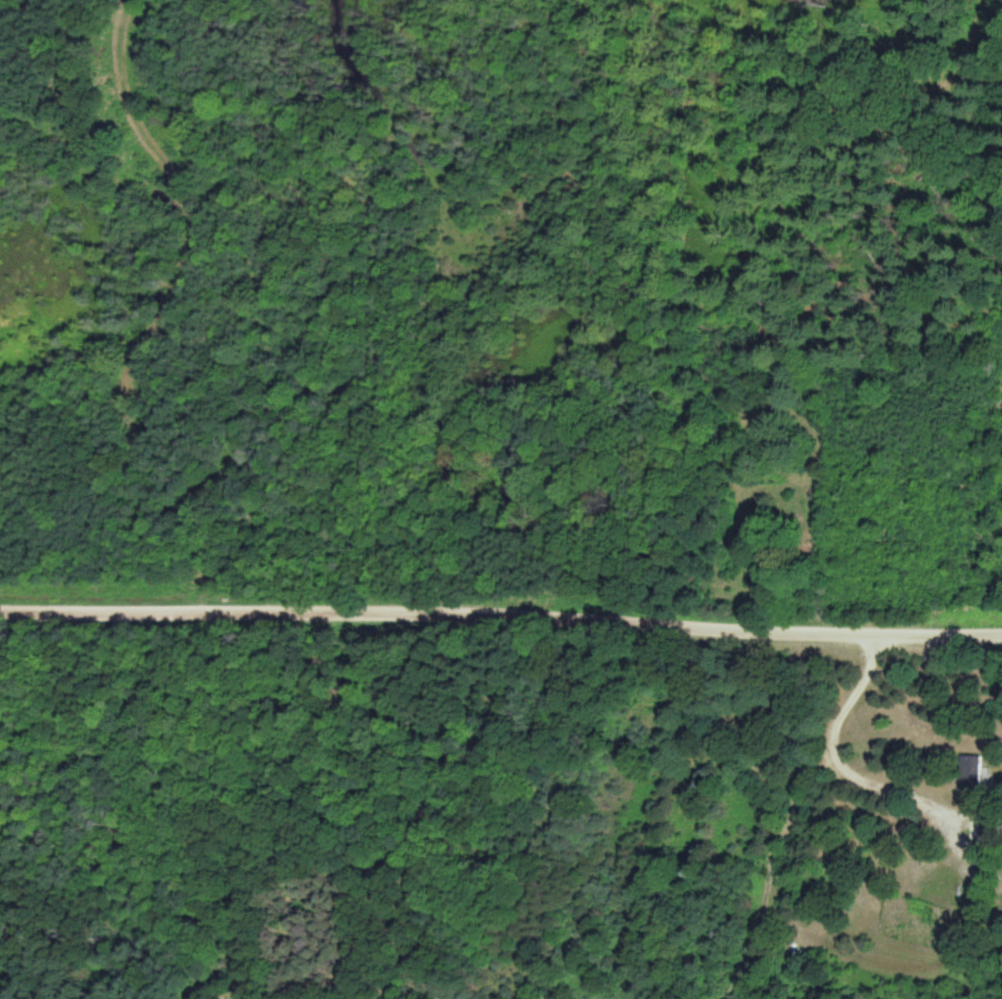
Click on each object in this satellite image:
road: (501, 596)
building: (970, 778)
building: (987, 823)

